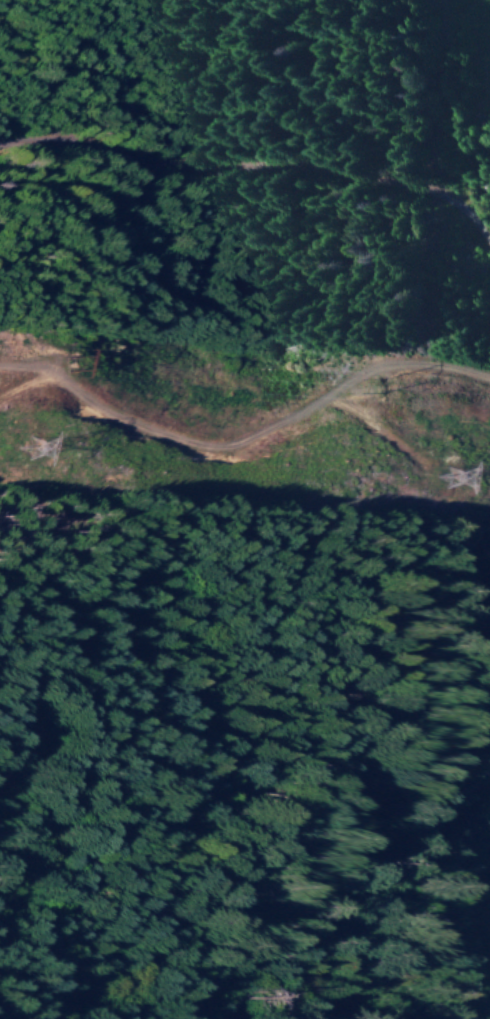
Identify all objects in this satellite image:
road: (256, 245)
power tower: (83, 366)
power tower: (394, 387)
road: (353, 917)

